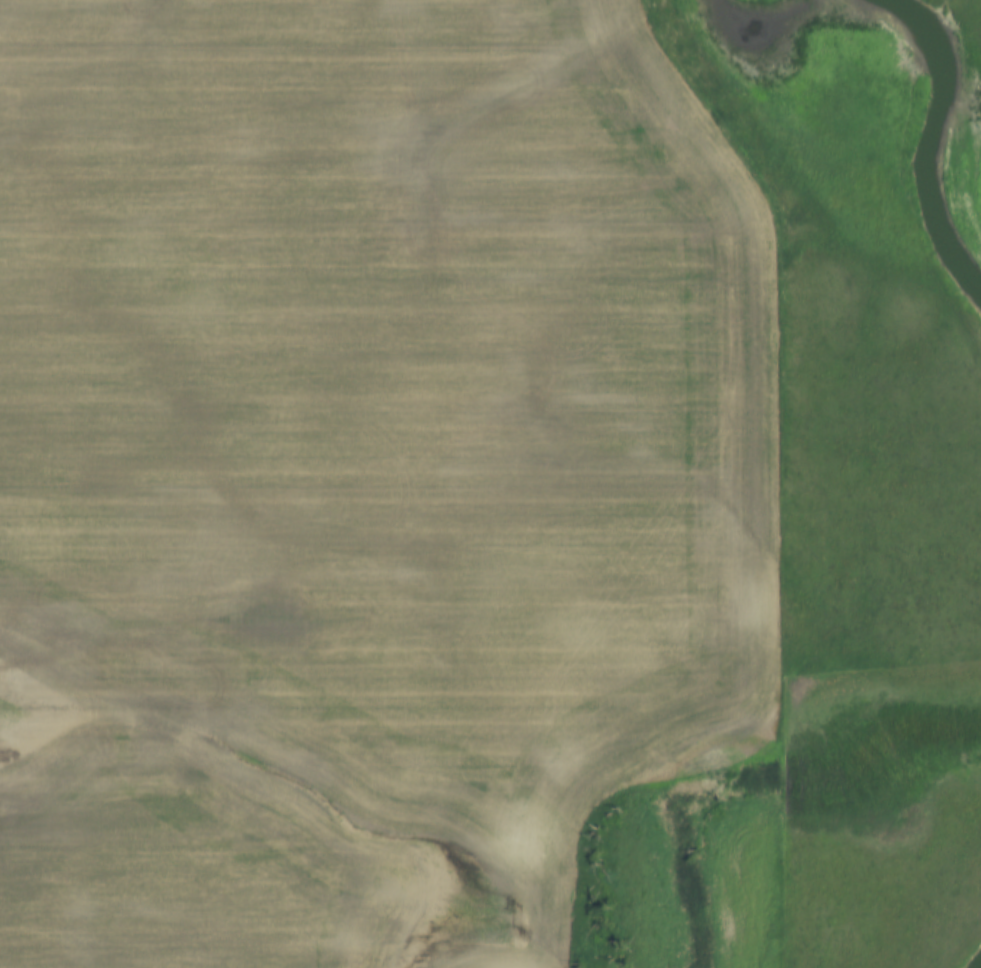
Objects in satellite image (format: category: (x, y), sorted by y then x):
river: (961, 113)

